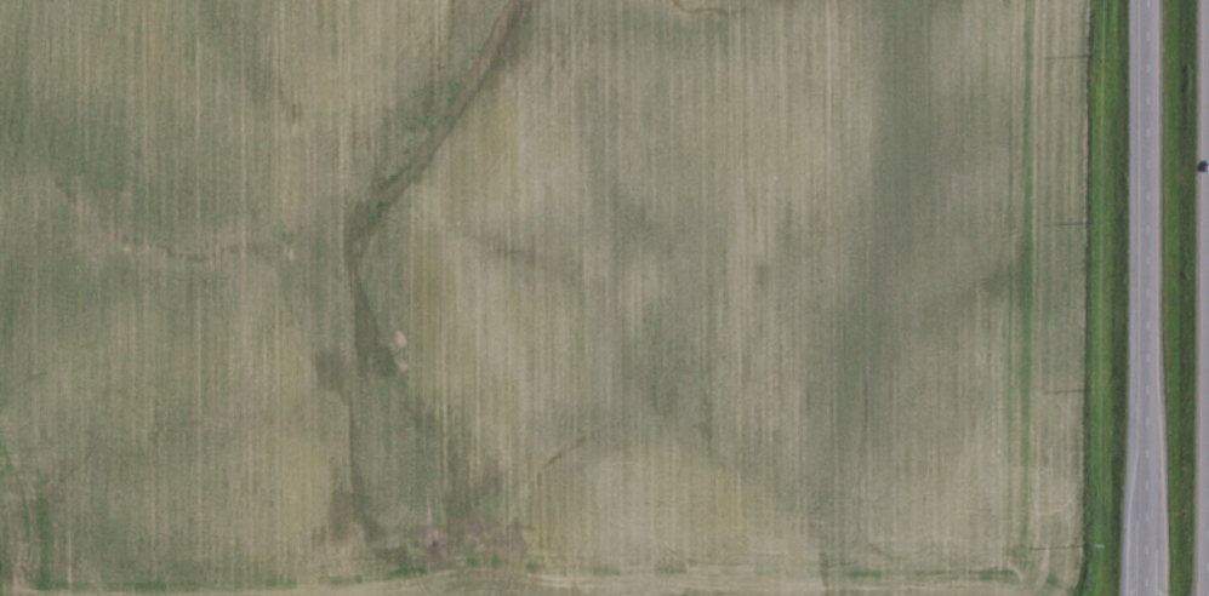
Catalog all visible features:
road: (1145, 298)
road: (1207, 416)

